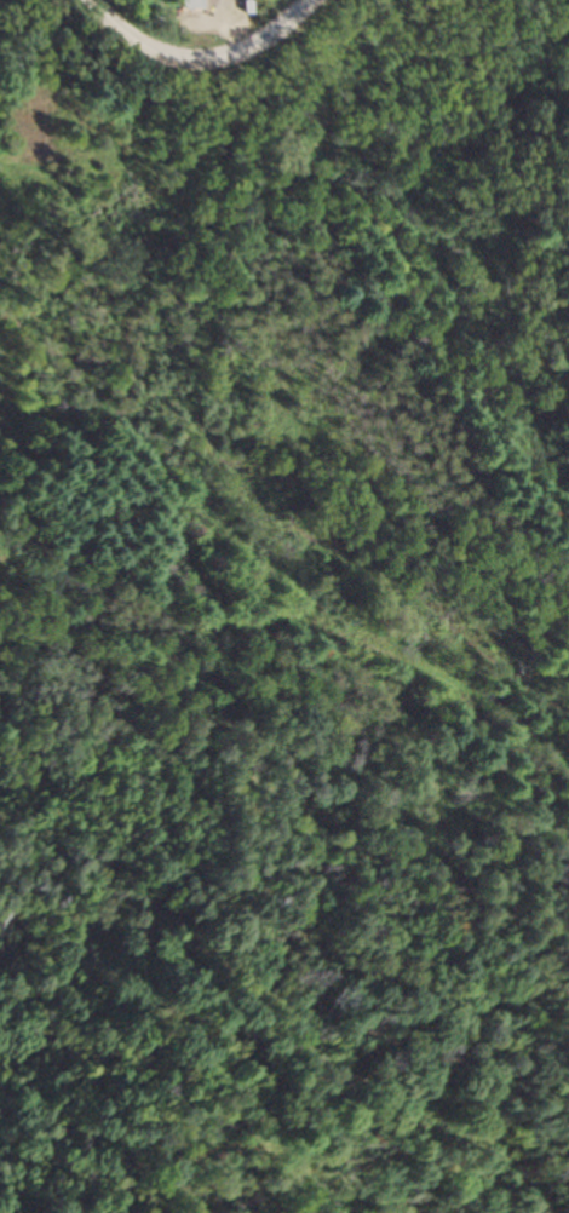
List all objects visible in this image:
building: (196, 5)
road: (180, 8)

